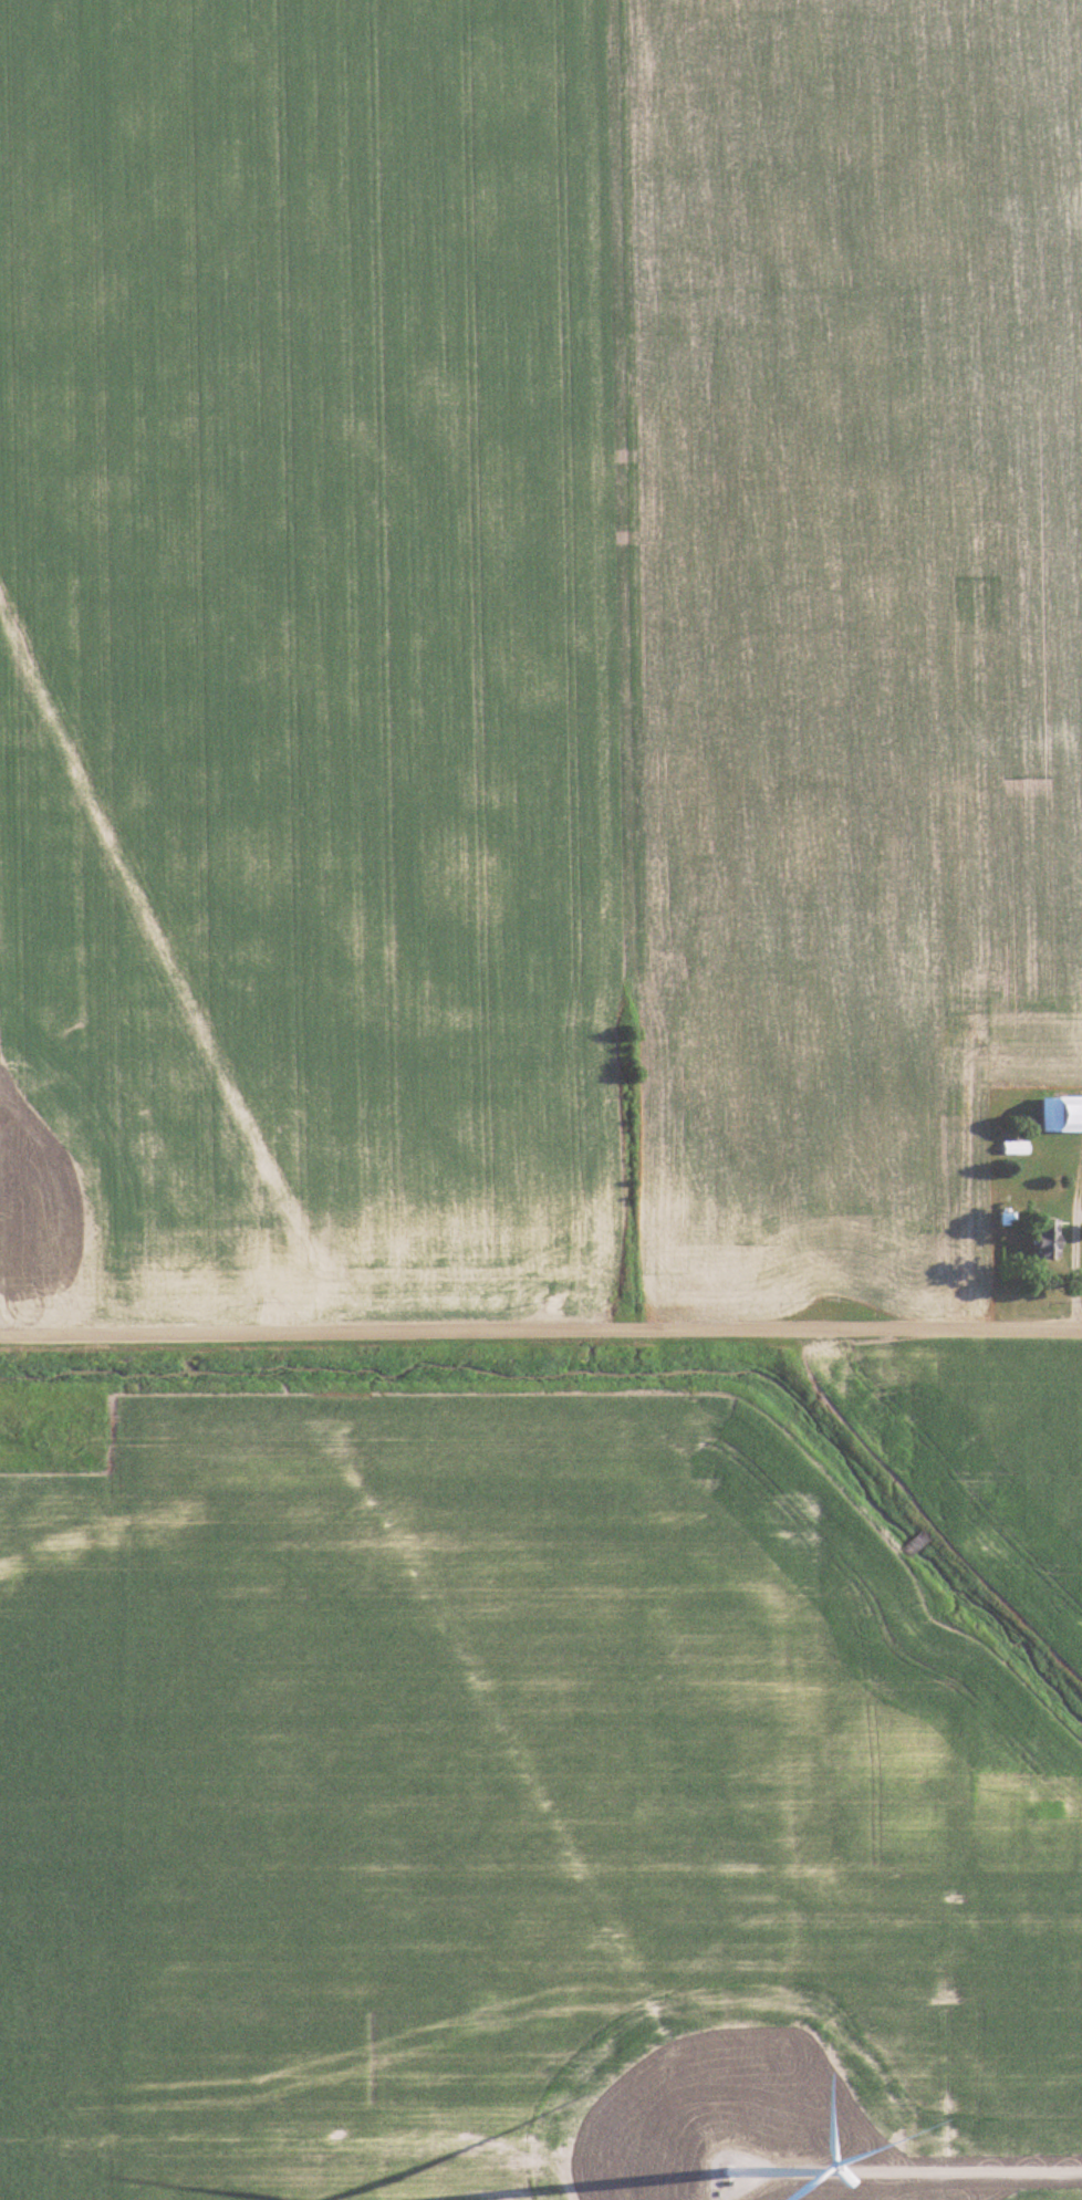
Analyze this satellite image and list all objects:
building: (1059, 1113)
building: (1039, 1238)
road: (540, 1331)
wind turbine: (722, 2168)

